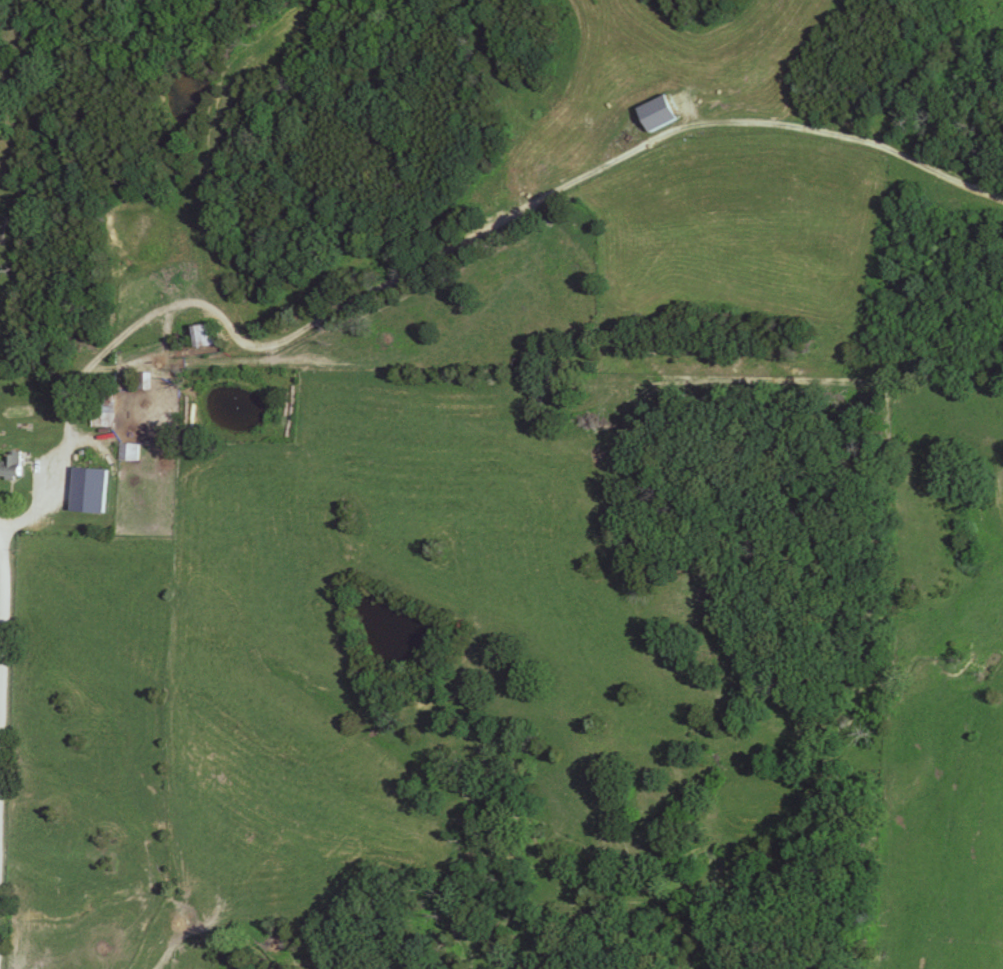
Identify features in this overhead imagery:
building: (205, 335)
building: (144, 381)
building: (101, 409)
road: (92, 440)
building: (128, 452)
building: (10, 465)
road: (4, 678)

